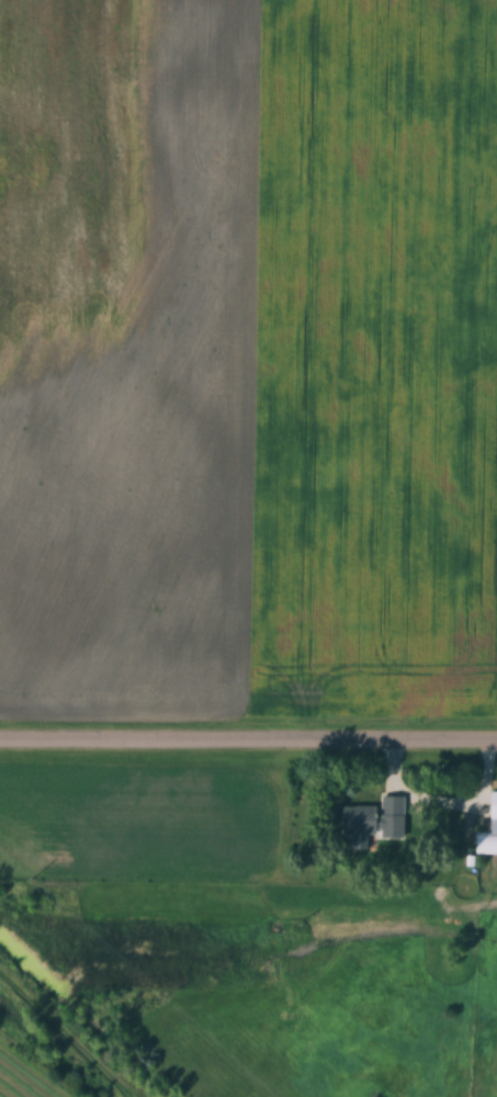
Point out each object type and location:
road: (248, 742)
building: (494, 806)
building: (376, 822)

